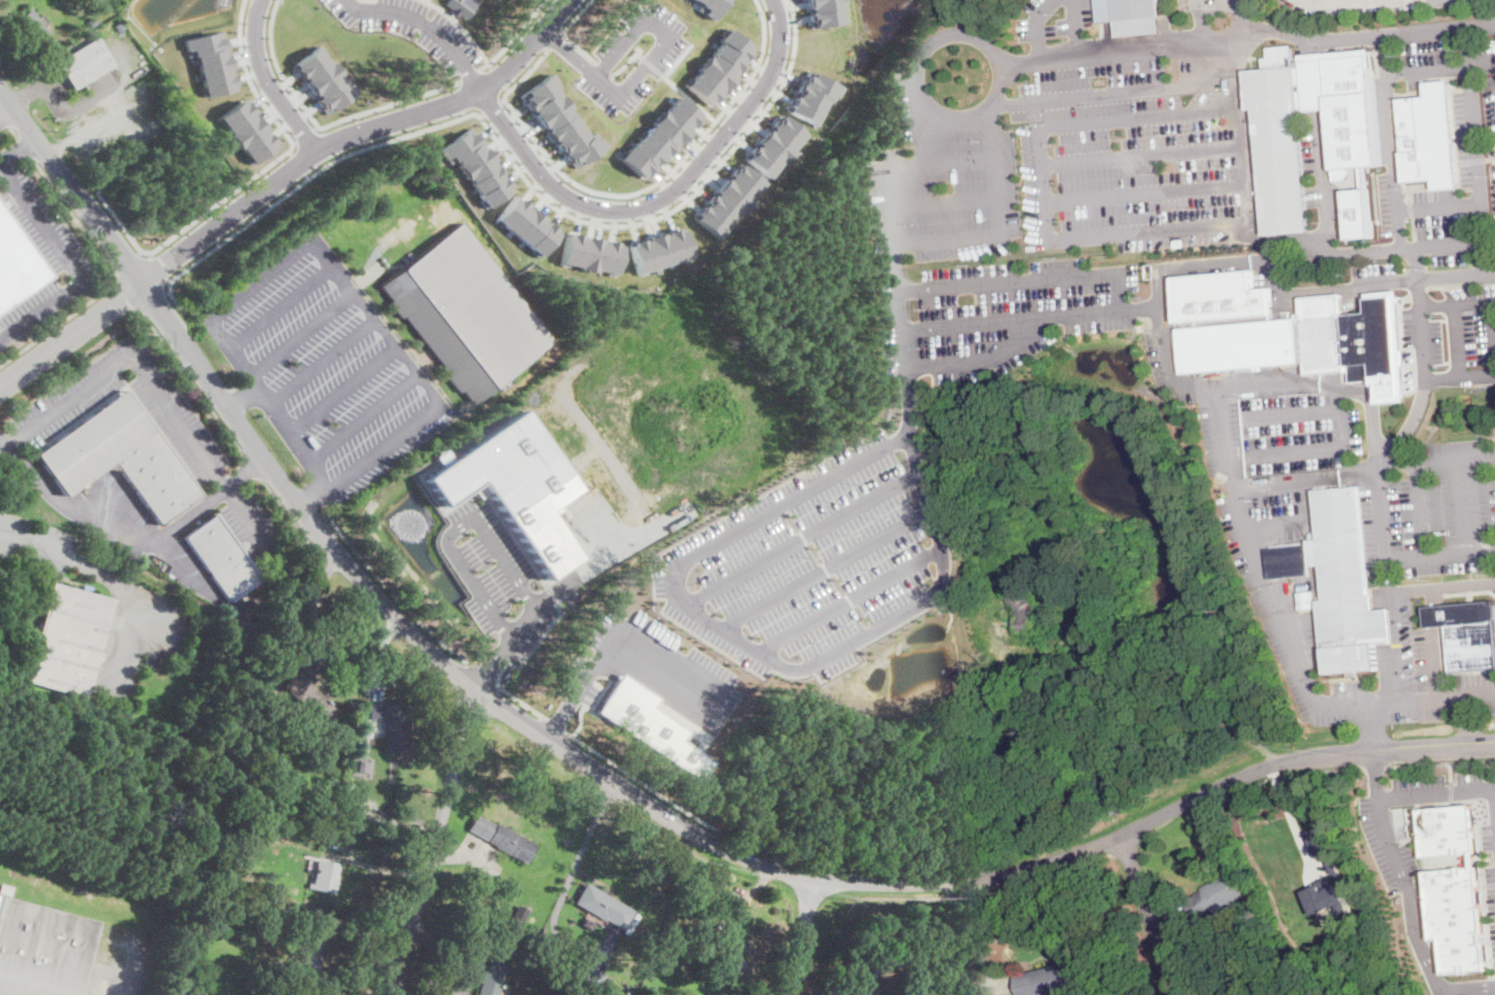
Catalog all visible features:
road: (426, 1)
road: (1350, 1)
parking lot: (1453, 2)
building: (461, 6)
building: (709, 7)
building: (823, 12)
road: (1241, 13)
building: (1136, 17)
road: (1203, 20)
parking lot: (1222, 20)
building: (91, 22)
road: (460, 25)
building: (33, 26)
road: (426, 26)
road: (1036, 27)
road: (1247, 27)
road: (1075, 29)
road: (518, 31)
road: (562, 32)
road: (554, 40)
road: (1467, 45)
road: (1386, 53)
building: (209, 62)
building: (85, 63)
road: (626, 63)
road: (490, 64)
road: (484, 65)
road: (601, 67)
road: (645, 67)
building: (718, 67)
road: (470, 75)
road: (500, 78)
building: (322, 79)
road: (265, 81)
building: (811, 97)
road: (688, 98)
road: (1015, 103)
road: (922, 104)
road: (492, 106)
road: (7, 114)
road: (1135, 117)
road: (4, 118)
building: (560, 121)
road: (321, 126)
road: (13, 131)
building: (244, 131)
road: (354, 134)
building: (1428, 137)
building: (658, 138)
building: (1353, 140)
road: (932, 142)
building: (773, 146)
road: (25, 147)
road: (18, 149)
road: (1478, 152)
road: (1391, 153)
road: (1139, 154)
road: (510, 160)
building: (474, 167)
road: (1040, 170)
road: (251, 176)
road: (1326, 184)
road: (638, 190)
parking lot: (1045, 191)
road: (1143, 195)
road: (663, 197)
building: (727, 201)
road: (944, 201)
road: (1440, 208)
road: (1245, 213)
building: (523, 225)
road: (921, 244)
building: (658, 250)
building: (588, 253)
parking lot: (42, 255)
road: (1488, 256)
building: (16, 264)
road: (1415, 264)
road: (72, 265)
road: (1068, 276)
road: (113, 277)
road: (246, 289)
road: (126, 294)
building: (1220, 296)
road: (1457, 305)
road: (1142, 312)
building: (465, 313)
road: (260, 321)
road: (1493, 323)
road: (299, 333)
road: (72, 337)
building: (1303, 341)
road: (1459, 342)
road: (992, 357)
road: (320, 359)
parking lot: (327, 367)
road: (417, 375)
road: (1461, 379)
road: (191, 381)
road: (154, 386)
road: (1194, 386)
road: (1326, 387)
road: (187, 388)
road: (341, 388)
parking lot: (67, 401)
road: (362, 415)
road: (1294, 415)
parking lot: (1290, 432)
parking lot: (1221, 436)
road: (293, 437)
road: (2, 439)
road: (1391, 448)
road: (1327, 449)
building: (120, 458)
road: (1439, 463)
road: (252, 465)
road: (246, 473)
building: (514, 485)
road: (285, 509)
parking lot: (1444, 509)
road: (475, 520)
road: (501, 521)
parking lot: (249, 522)
road: (108, 531)
parking lot: (1264, 534)
road: (804, 538)
parking lot: (37, 541)
road: (1485, 547)
road: (1451, 550)
building: (221, 558)
parking lot: (816, 560)
building: (1287, 560)
road: (589, 563)
road: (827, 568)
parking lot: (495, 577)
road: (118, 582)
building: (1345, 586)
road: (551, 592)
road: (395, 596)
building: (1306, 599)
road: (849, 600)
road: (314, 603)
building: (1021, 607)
building: (1467, 634)
building: (67, 640)
parking lot: (170, 644)
road: (1399, 646)
road: (610, 647)
road: (532, 649)
road: (770, 660)
parking lot: (126, 669)
parking lot: (655, 669)
road: (486, 671)
road: (483, 675)
building: (93, 676)
building: (310, 700)
road: (520, 701)
road: (1414, 702)
road: (587, 707)
road: (1464, 720)
building: (391, 722)
road: (555, 724)
building: (650, 725)
building: (263, 747)
road: (1441, 764)
building: (362, 767)
road: (1376, 768)
road: (1339, 771)
road: (1372, 772)
road: (1450, 773)
building: (253, 775)
building: (269, 777)
road: (609, 782)
road: (646, 784)
road: (1450, 792)
road: (1494, 792)
road: (1288, 810)
building: (254, 825)
building: (273, 829)
building: (1445, 829)
parking lot: (1379, 834)
building: (502, 838)
parking lot: (1490, 839)
road: (433, 842)
road: (1486, 858)
road: (1400, 862)
road: (374, 866)
building: (1333, 866)
road: (1480, 870)
building: (480, 874)
road: (571, 876)
building: (325, 877)
building: (515, 895)
building: (1216, 898)
building: (605, 906)
building: (519, 914)
building: (306, 915)
road: (1145, 915)
building: (1456, 918)
building: (262, 921)
road: (801, 936)
parking lot: (1494, 936)
road: (980, 937)
building: (590, 939)
building: (41, 949)
building: (725, 950)
building: (309, 952)
building: (743, 965)
building: (594, 978)
building: (491, 979)
building: (862, 979)
building: (1048, 980)
parking lot: (1483, 990)
road: (1441, 992)

